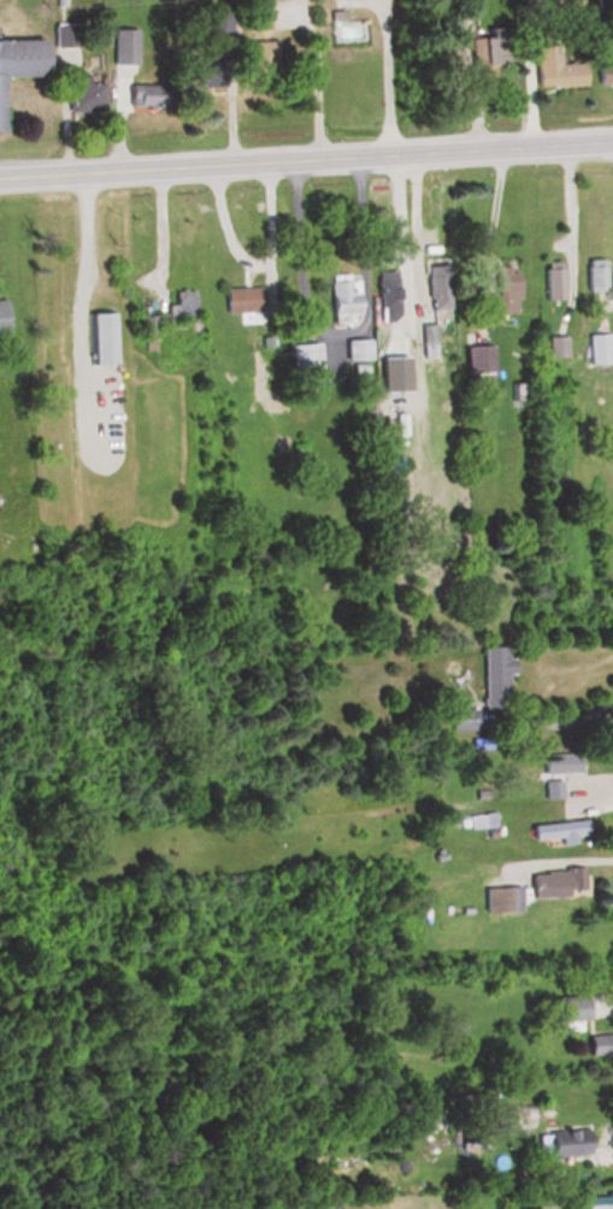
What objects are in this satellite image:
building: (254, 16)
building: (64, 35)
building: (122, 47)
building: (485, 51)
building: (20, 57)
building: (552, 67)
building: (198, 70)
building: (603, 70)
road: (390, 77)
road: (320, 87)
building: (81, 95)
road: (306, 159)
road: (567, 210)
road: (493, 211)
road: (407, 225)
road: (253, 261)
building: (591, 275)
building: (550, 279)
building: (384, 288)
building: (502, 291)
building: (342, 296)
building: (238, 299)
road: (76, 301)
building: (177, 302)
building: (53, 312)
building: (1, 319)
building: (149, 324)
building: (100, 336)
building: (424, 340)
building: (353, 348)
building: (595, 348)
building: (397, 352)
building: (73, 353)
building: (299, 359)
building: (475, 362)
building: (494, 674)
building: (458, 718)
building: (556, 762)
building: (548, 789)
building: (555, 831)
building: (553, 883)
building: (497, 900)
building: (567, 1013)
building: (599, 1045)
building: (501, 1117)
building: (467, 1140)
building: (560, 1143)
building: (597, 1202)

